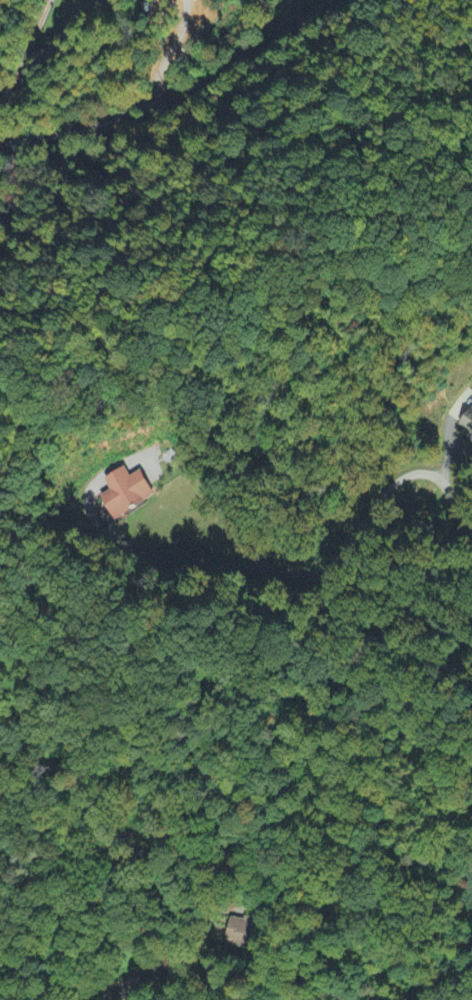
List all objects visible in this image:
road: (27, 49)
road: (173, 96)
building: (468, 422)
building: (471, 441)
building: (130, 492)
road: (321, 572)
building: (238, 932)
road: (254, 967)
road: (119, 990)

